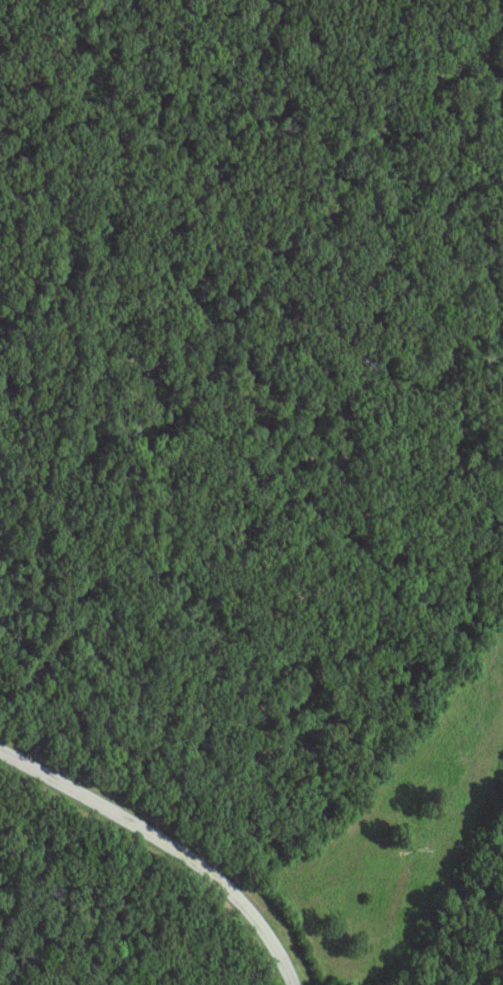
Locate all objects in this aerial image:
road: (166, 846)

